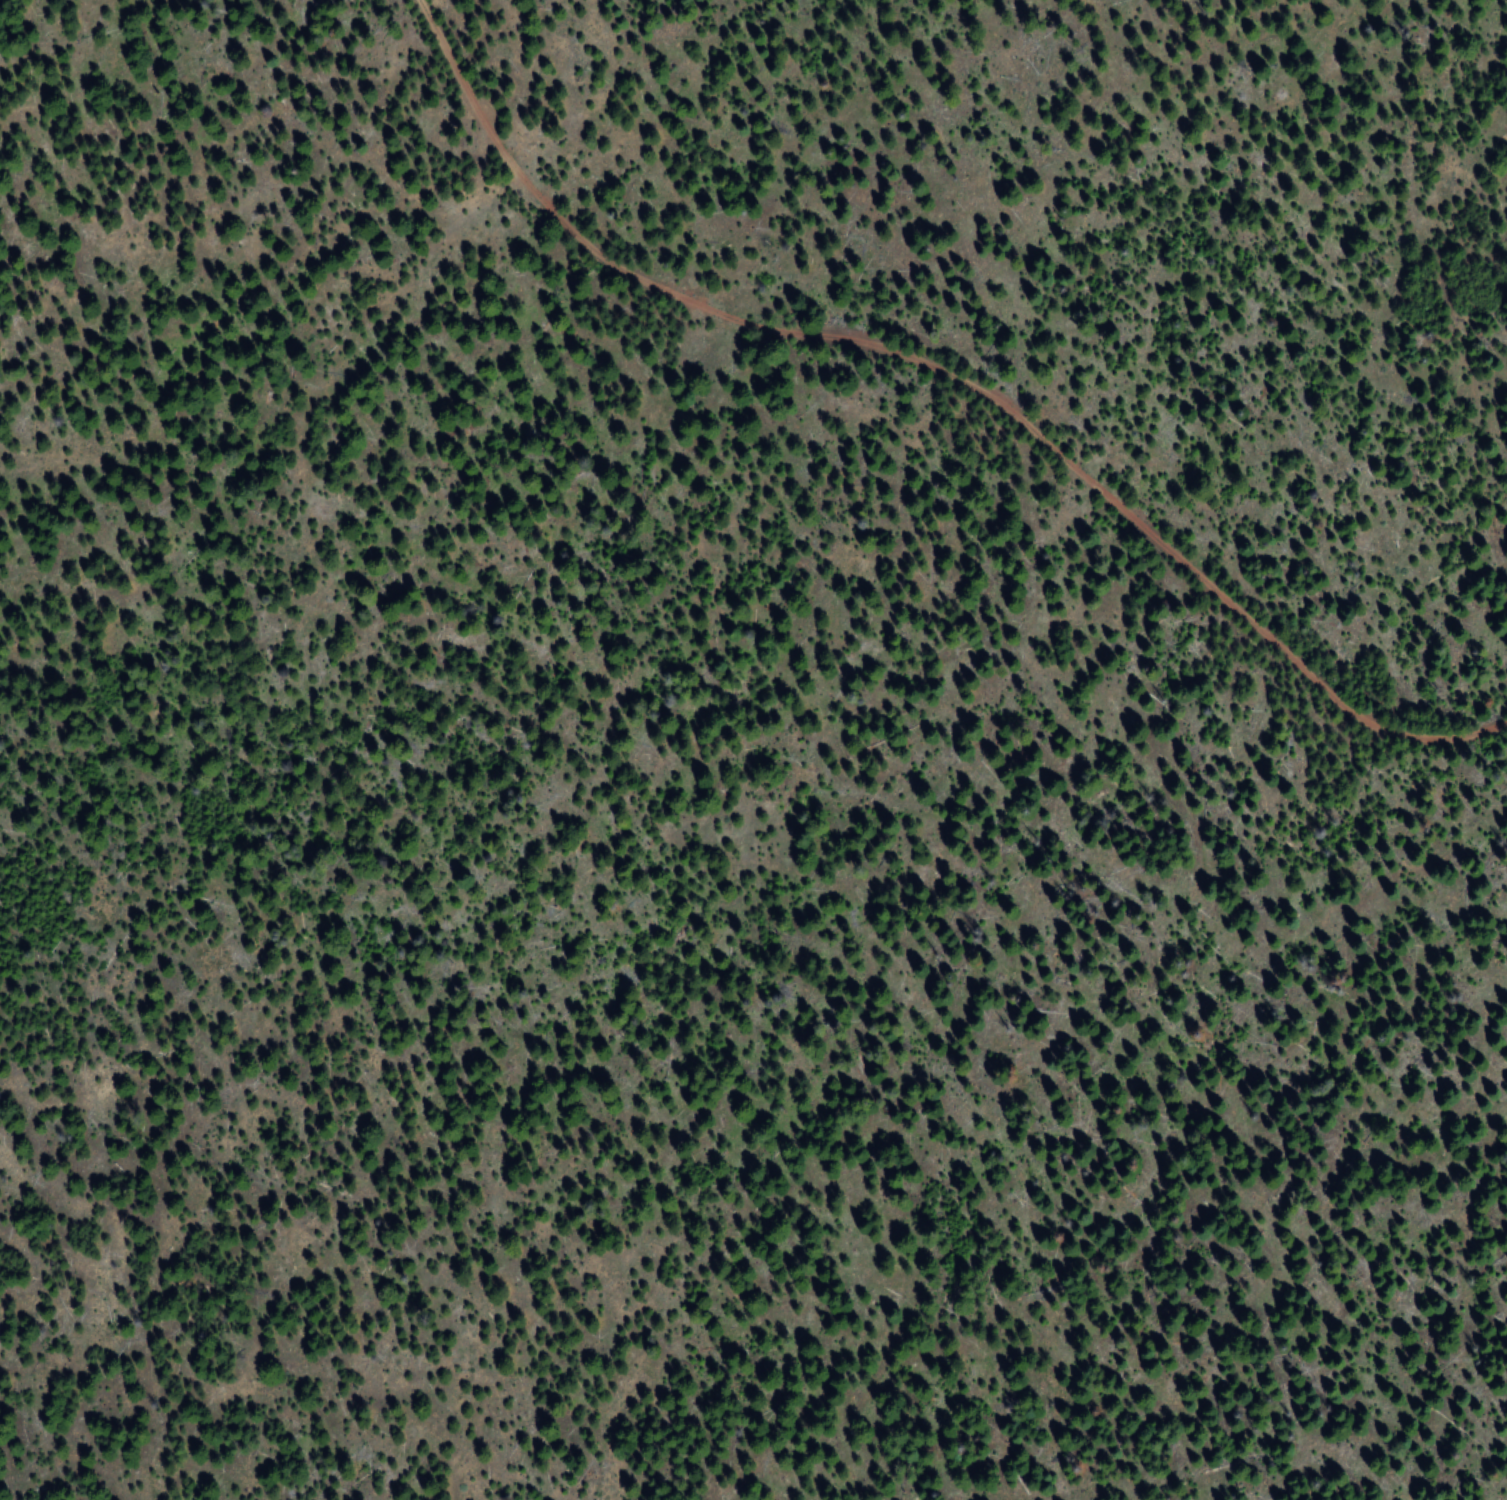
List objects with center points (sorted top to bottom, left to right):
road: (944, 373)

